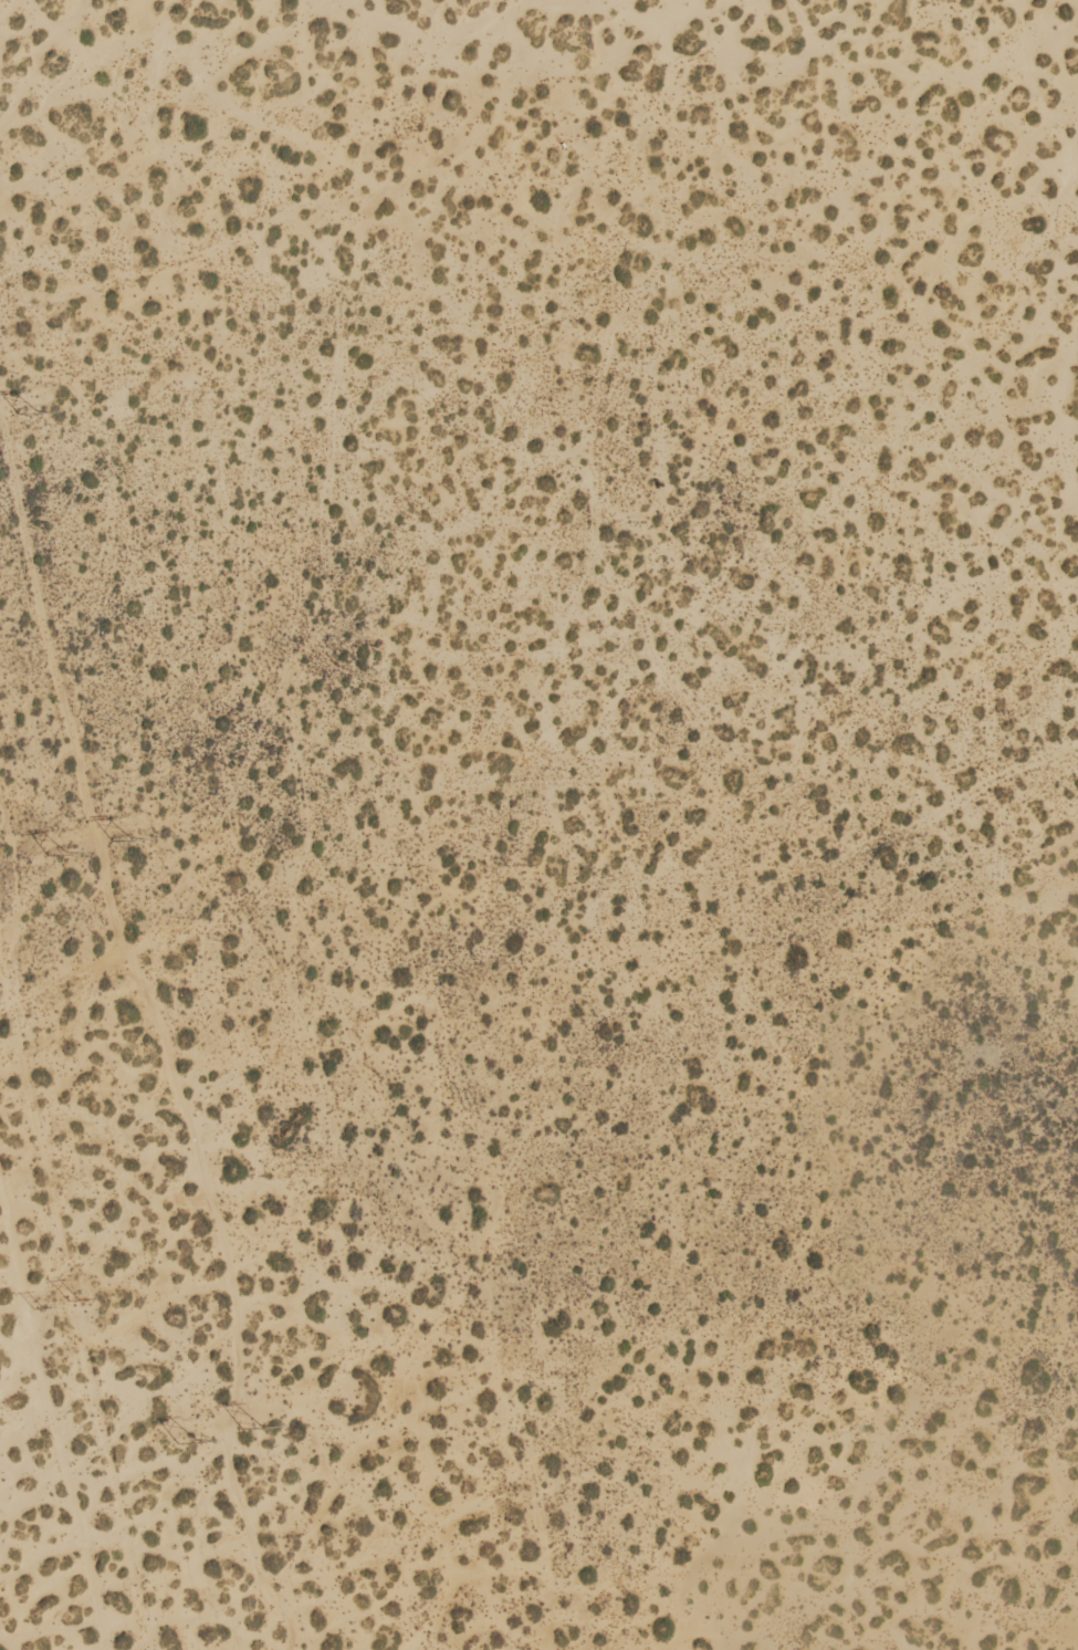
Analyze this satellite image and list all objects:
power tower: (24, 412)
power tower: (119, 833)
power tower: (56, 850)
power tower: (251, 1426)
power tower: (184, 1440)

